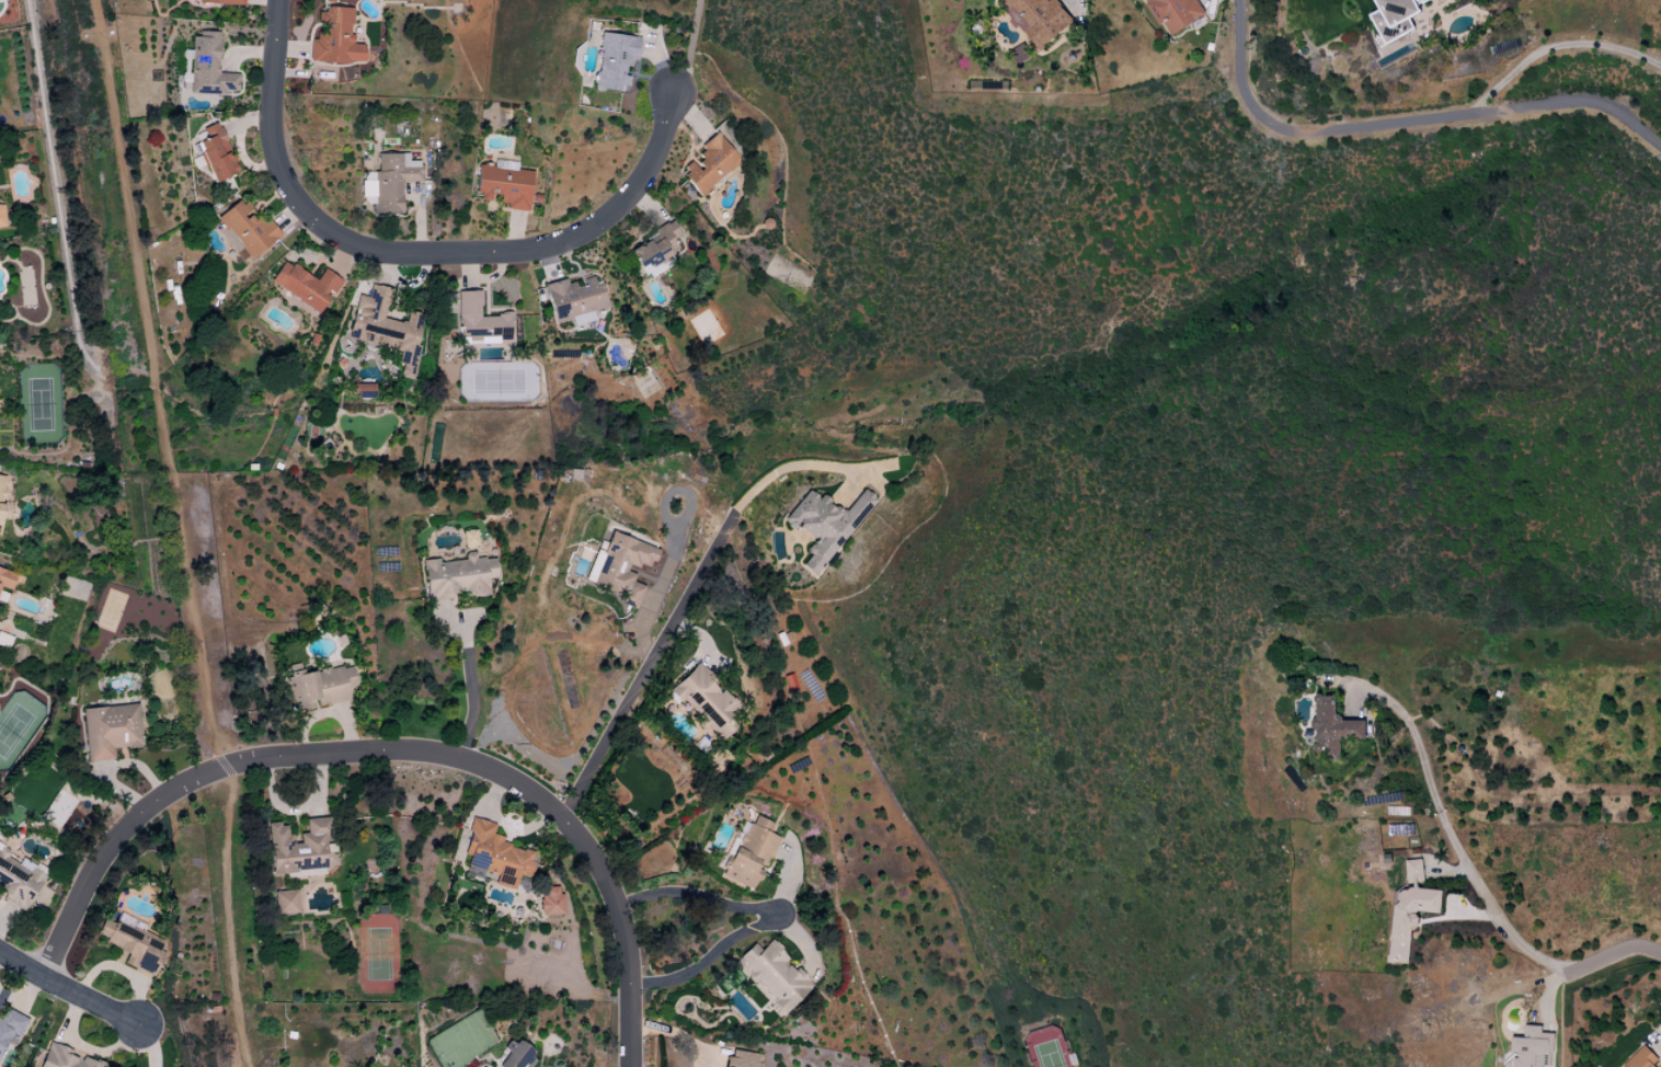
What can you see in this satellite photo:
building: (218, 2)
building: (1176, 13)
building: (1038, 18)
building: (1394, 18)
building: (334, 38)
road: (1560, 53)
building: (611, 60)
building: (207, 67)
road: (1405, 121)
building: (214, 153)
building: (708, 164)
building: (391, 181)
building: (502, 184)
building: (1, 219)
building: (244, 231)
building: (653, 246)
road: (412, 252)
building: (305, 286)
building: (573, 300)
building: (385, 328)
road: (150, 387)
building: (363, 391)
building: (1, 490)
building: (824, 525)
building: (468, 538)
building: (621, 567)
building: (456, 577)
building: (4, 583)
road: (678, 607)
building: (318, 687)
road: (469, 693)
building: (703, 698)
building: (1333, 725)
building: (108, 730)
road: (386, 754)
building: (1400, 828)
road: (1454, 834)
building: (297, 849)
building: (749, 852)
building: (494, 856)
building: (15, 882)
road: (692, 899)
building: (549, 900)
building: (285, 902)
building: (1410, 908)
road: (227, 917)
building: (131, 945)
road: (1613, 955)
road: (703, 957)
building: (771, 975)
road: (65, 994)
building: (9, 1025)
building: (1531, 1048)
building: (512, 1055)
building: (62, 1058)
building: (1641, 1058)
building: (741, 1059)

